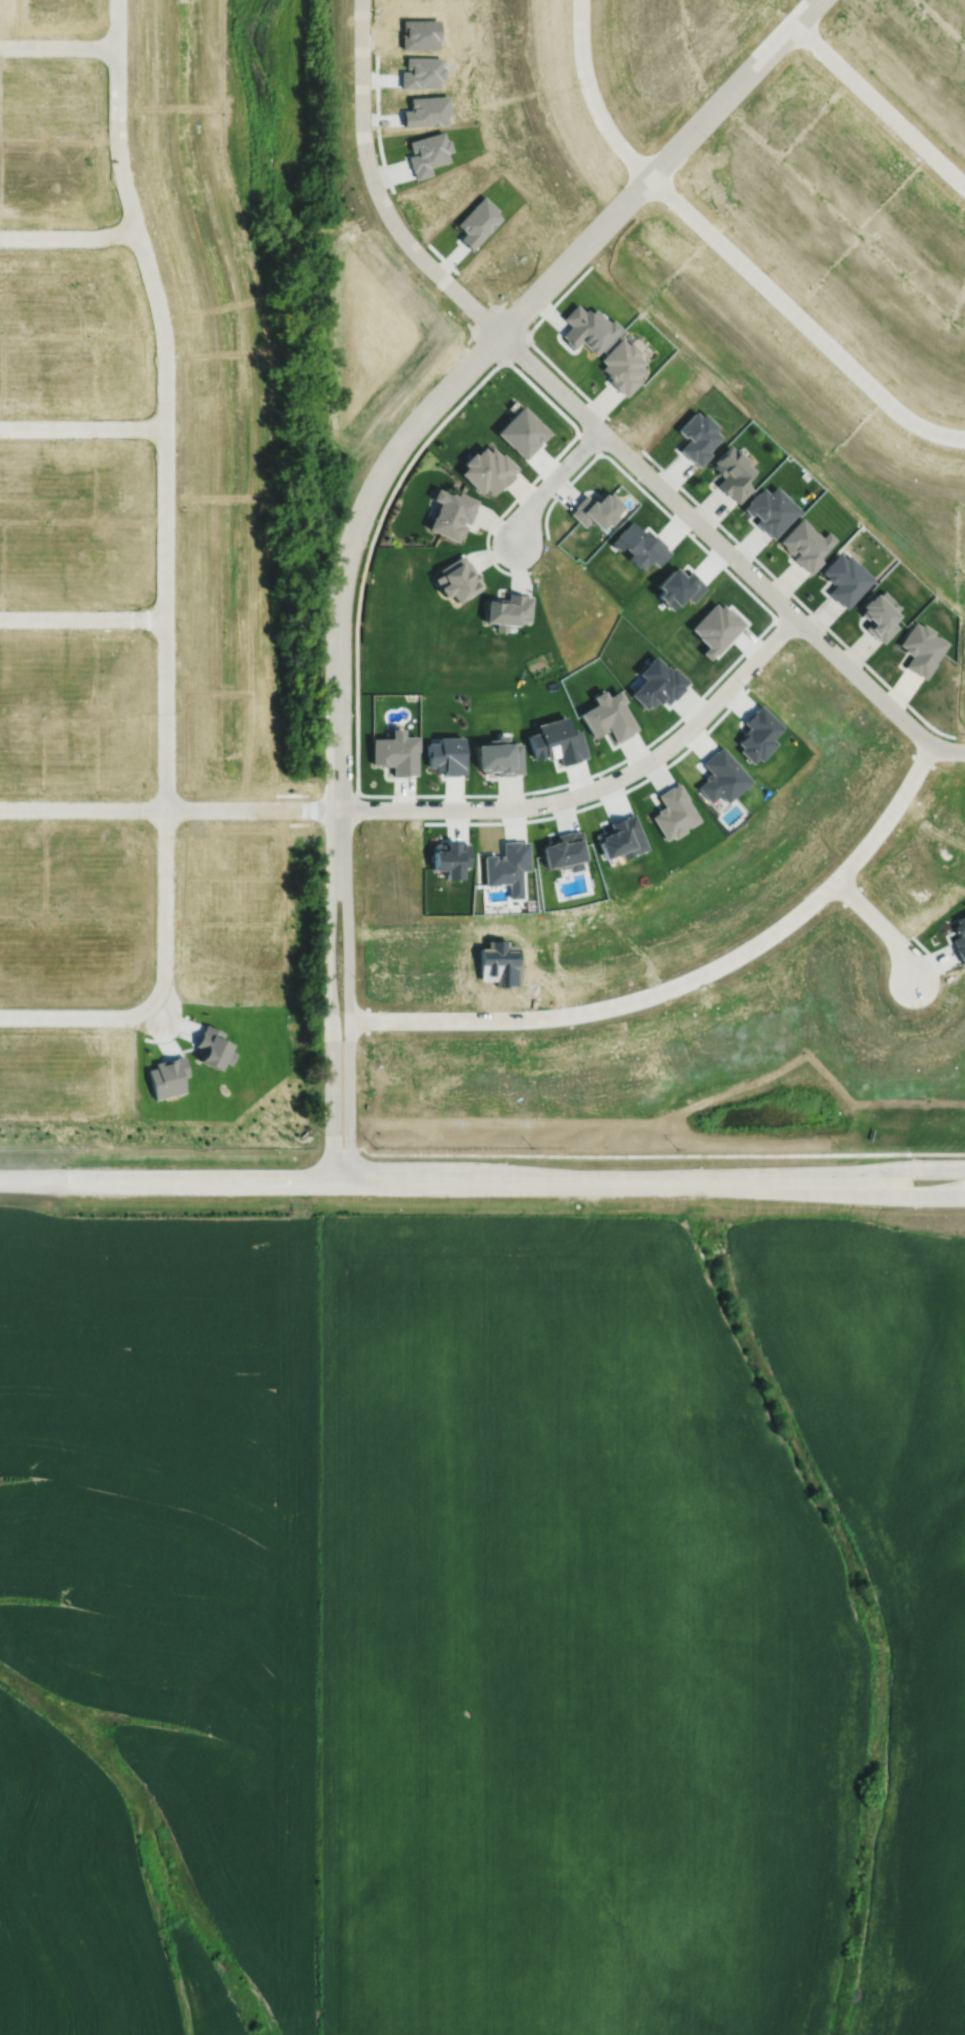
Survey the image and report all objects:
road: (58, 45)
road: (880, 106)
road: (661, 167)
road: (377, 190)
road: (69, 237)
road: (730, 248)
road: (82, 427)
road: (549, 478)
road: (165, 503)
building: (808, 540)
road: (727, 556)
road: (348, 562)
road: (83, 619)
building: (924, 641)
road: (594, 784)
road: (169, 808)
road: (881, 923)
road: (686, 978)
road: (329, 1010)
road: (350, 1010)
road: (81, 1012)
road: (937, 1153)
road: (430, 1180)
road: (860, 1183)

